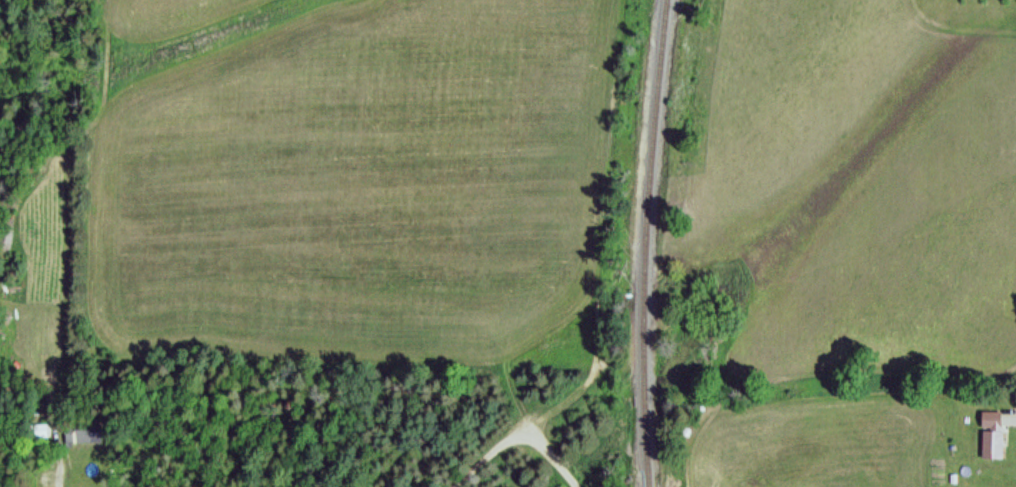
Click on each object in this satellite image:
railway: (641, 243)
building: (33, 427)
building: (990, 430)
building: (78, 432)
road: (510, 441)
road: (51, 471)

